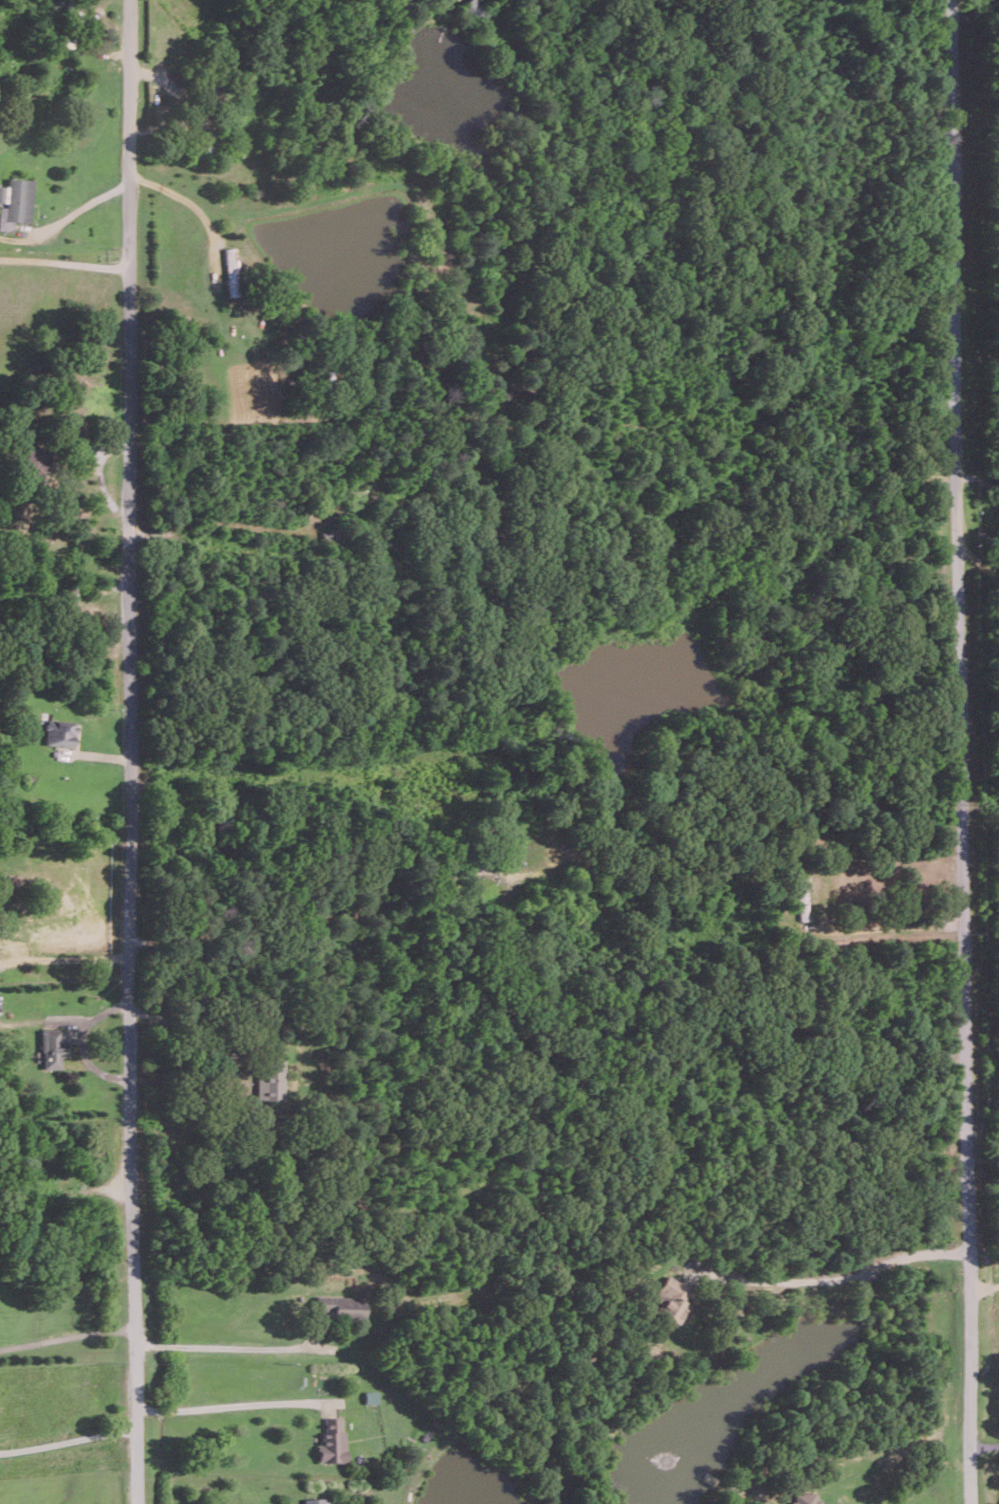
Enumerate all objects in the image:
building: (16, 202)
road: (197, 209)
road: (77, 211)
road: (64, 257)
road: (979, 561)
building: (59, 732)
road: (958, 751)
road: (129, 752)
road: (889, 926)
road: (180, 1024)
building: (51, 1049)
building: (270, 1081)
road: (833, 1279)
road: (981, 1287)
building: (671, 1299)
building: (339, 1306)
road: (67, 1335)
road: (222, 1347)
building: (369, 1396)
road: (231, 1404)
road: (68, 1440)
building: (330, 1441)
road: (982, 1446)
building: (805, 1499)
building: (315, 1501)

